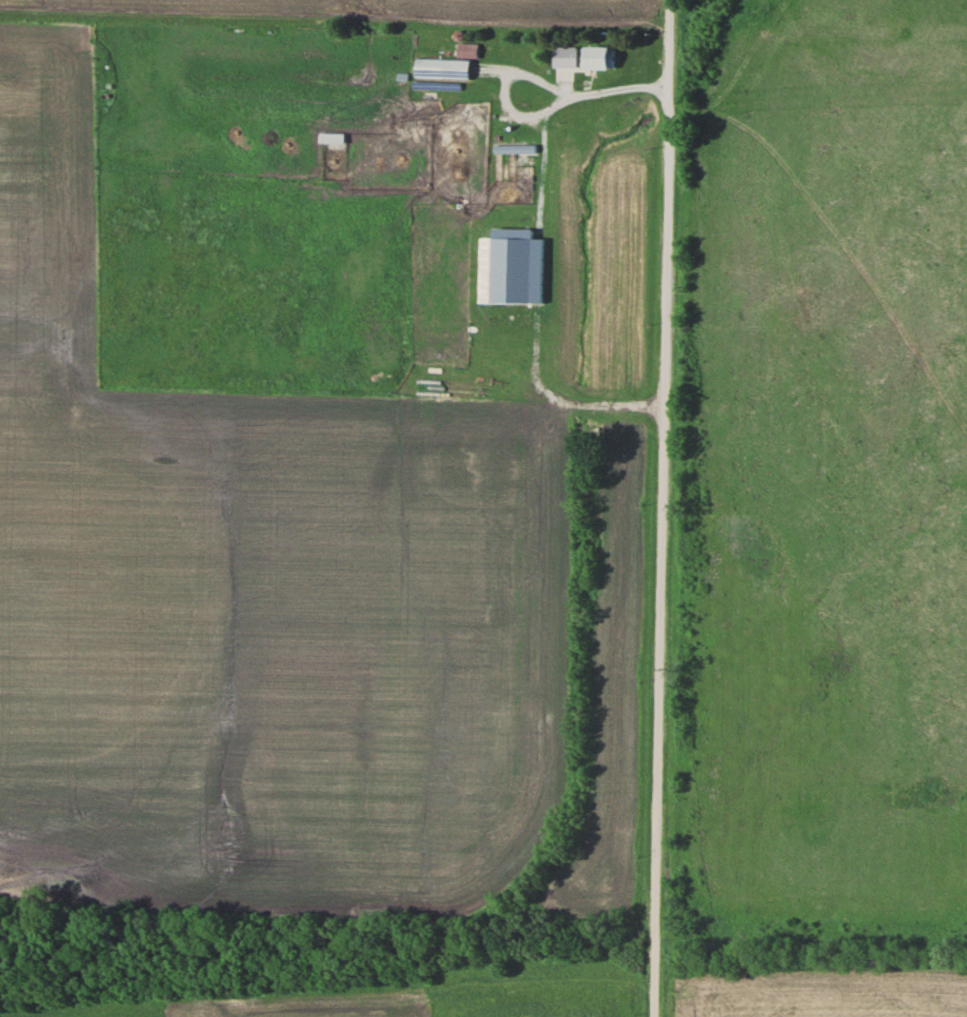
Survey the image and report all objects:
building: (602, 58)
building: (444, 69)
building: (563, 134)
building: (333, 138)
building: (522, 153)
road: (654, 508)

